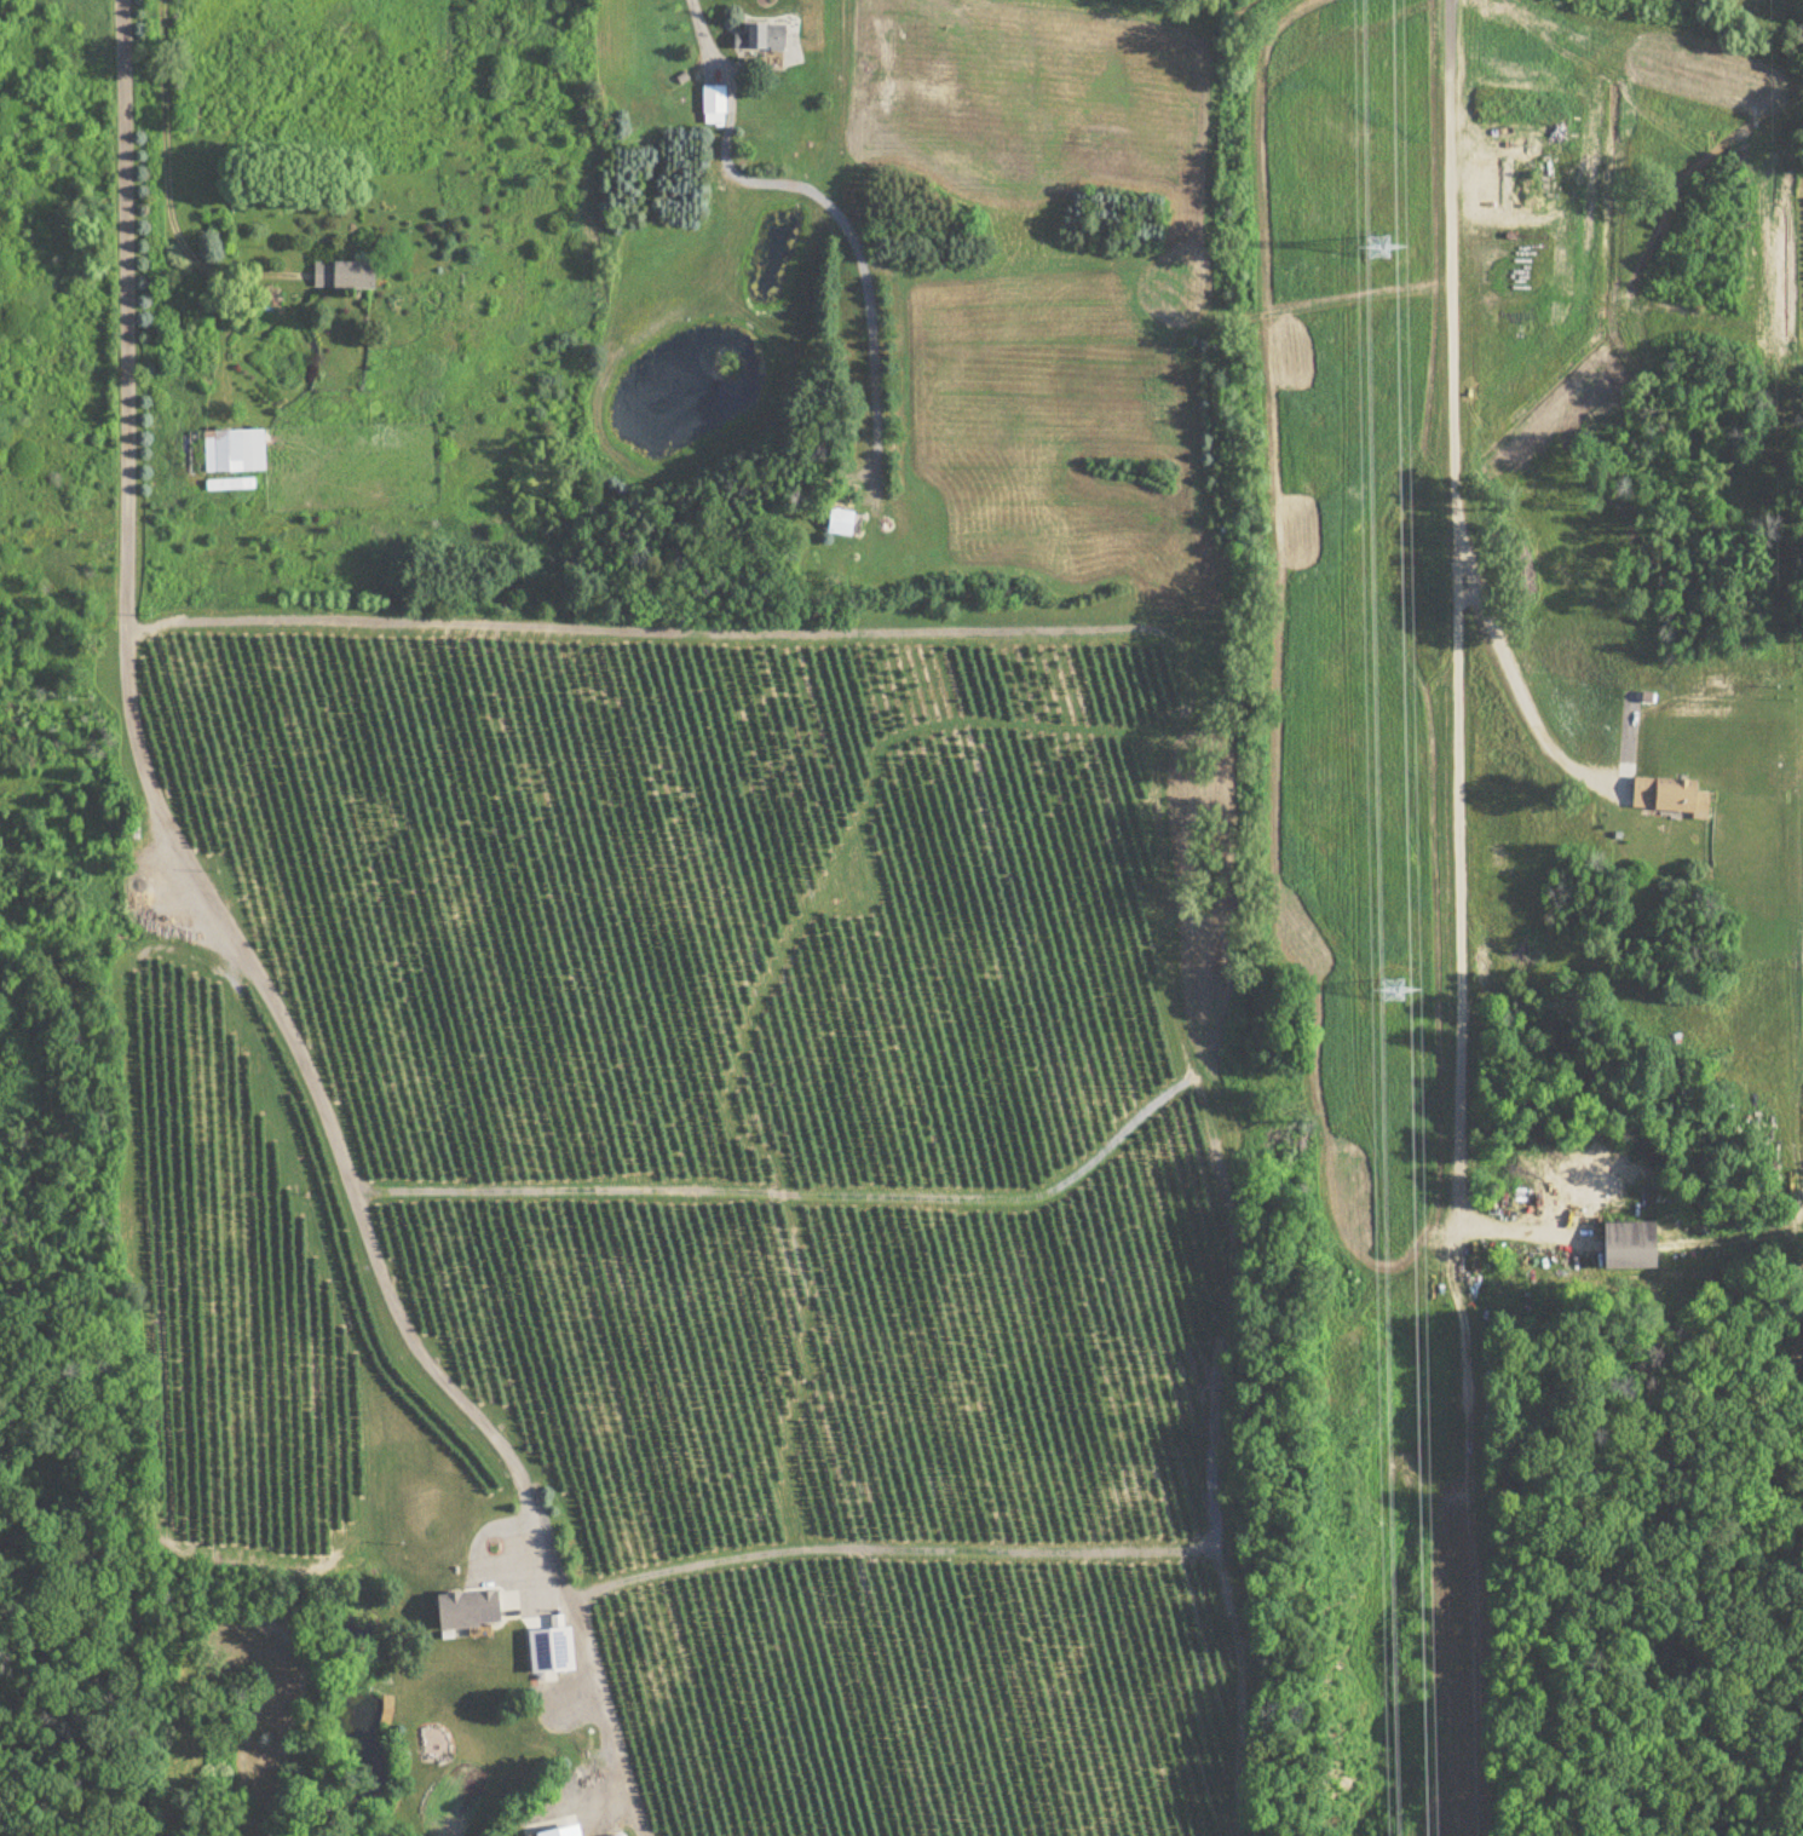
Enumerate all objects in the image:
road: (702, 22)
building: (761, 36)
building: (714, 104)
road: (137, 185)
road: (169, 186)
power tower: (1370, 231)
building: (344, 275)
building: (235, 450)
building: (230, 484)
building: (840, 523)
road: (1458, 660)
road: (1514, 679)
building: (1667, 796)
road: (203, 914)
power tower: (1377, 973)
building: (1628, 1247)
building: (467, 1610)
building: (549, 1651)
building: (561, 1832)

